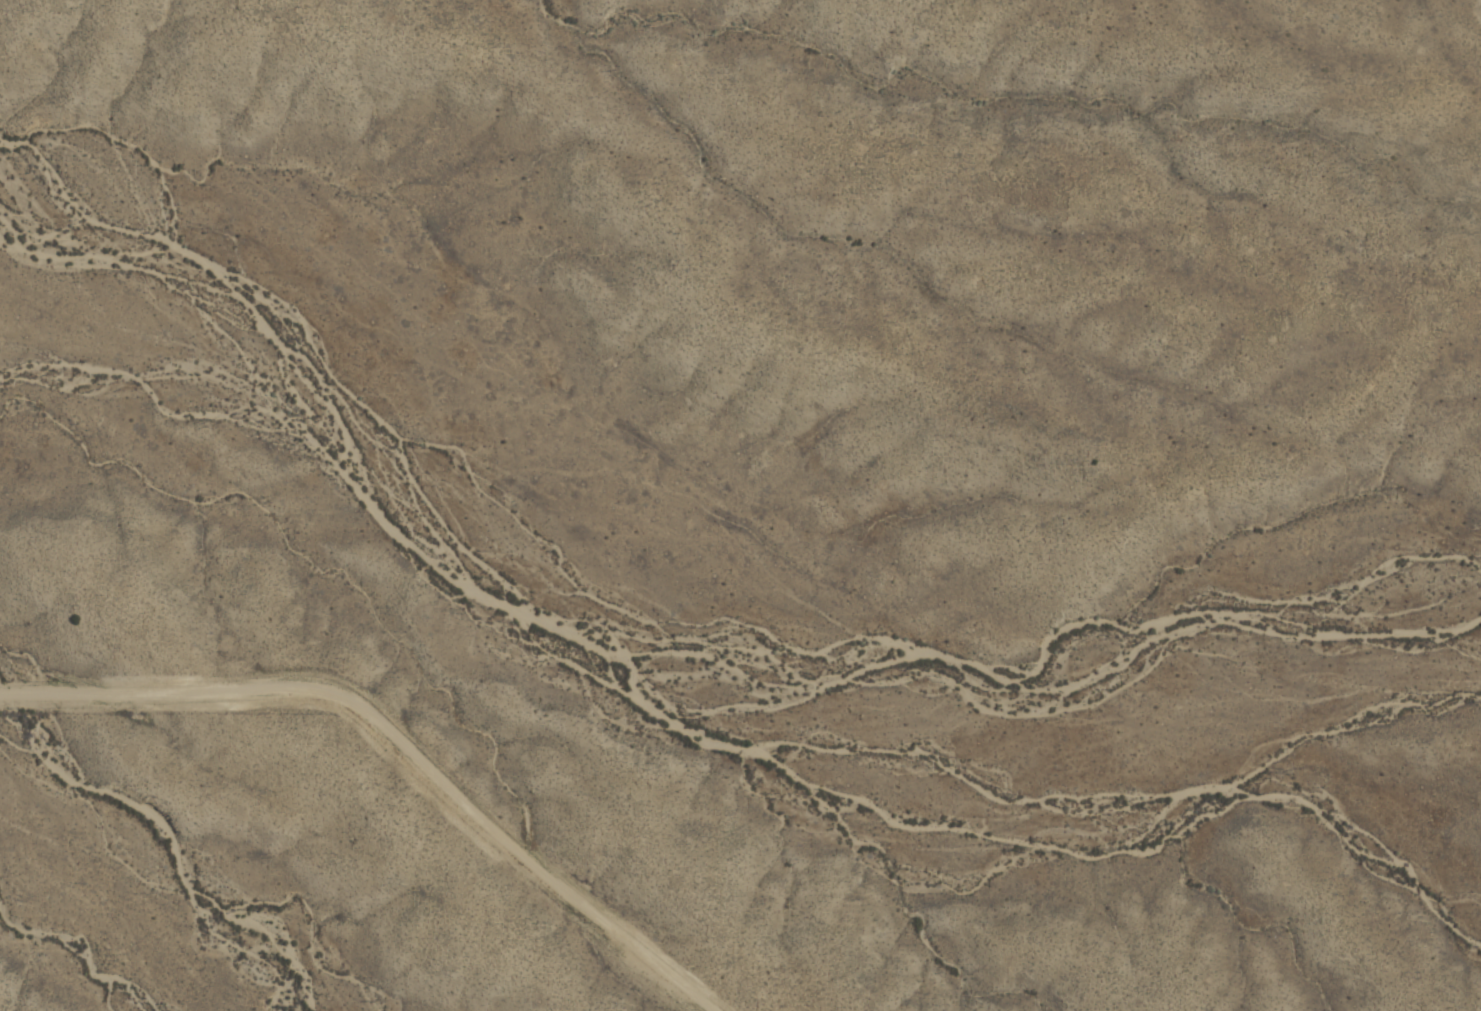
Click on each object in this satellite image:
road: (398, 740)

